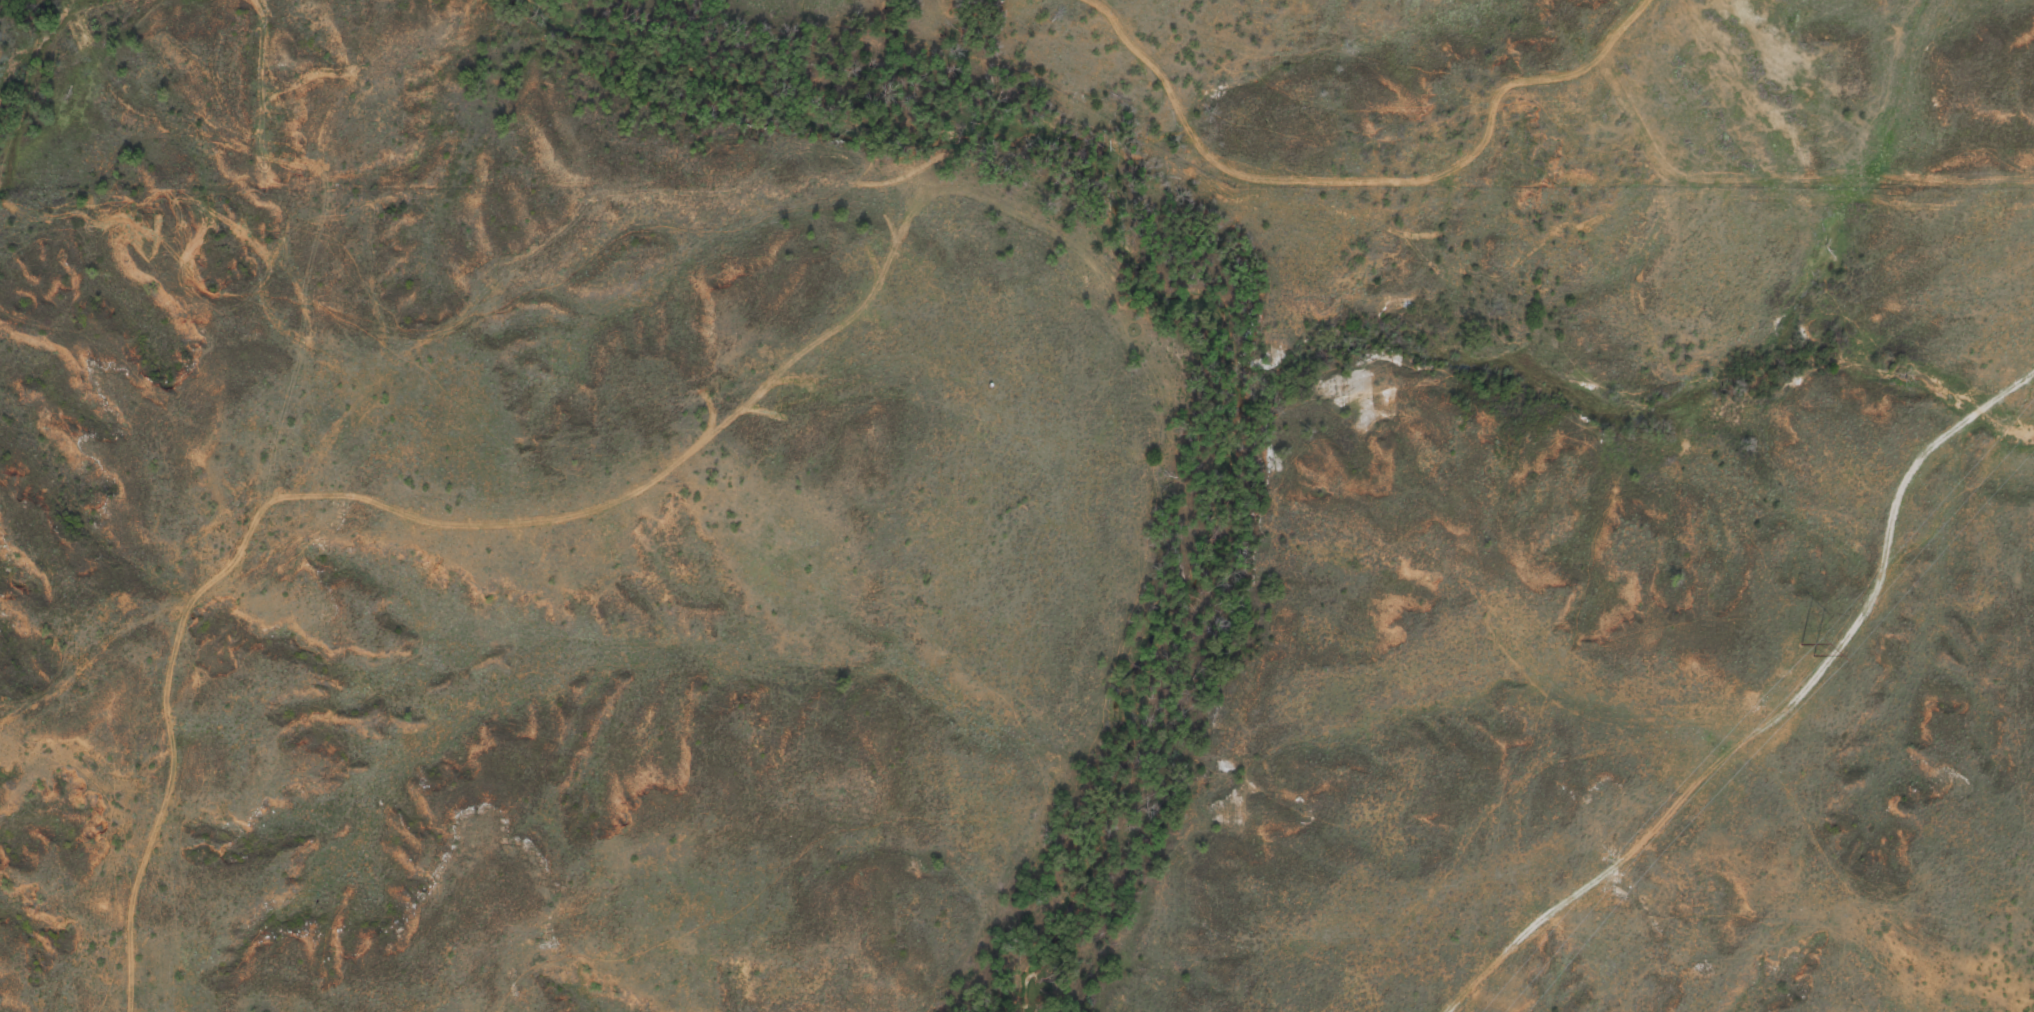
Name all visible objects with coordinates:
power tower: (1809, 647)

